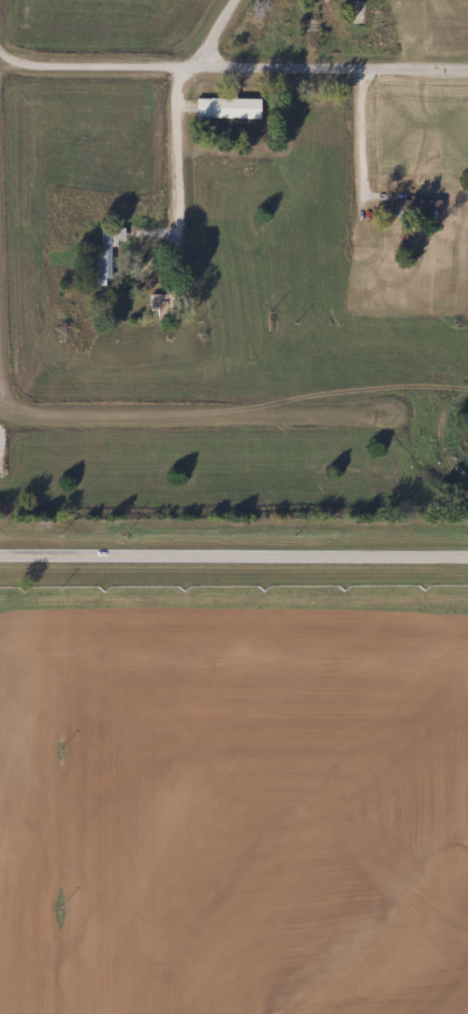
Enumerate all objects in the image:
building: (356, 12)
building: (320, 19)
road: (219, 33)
road: (236, 67)
road: (2, 90)
building: (225, 108)
road: (367, 137)
road: (182, 153)
building: (413, 205)
building: (104, 256)
building: (154, 303)
road: (98, 414)
road: (234, 555)

